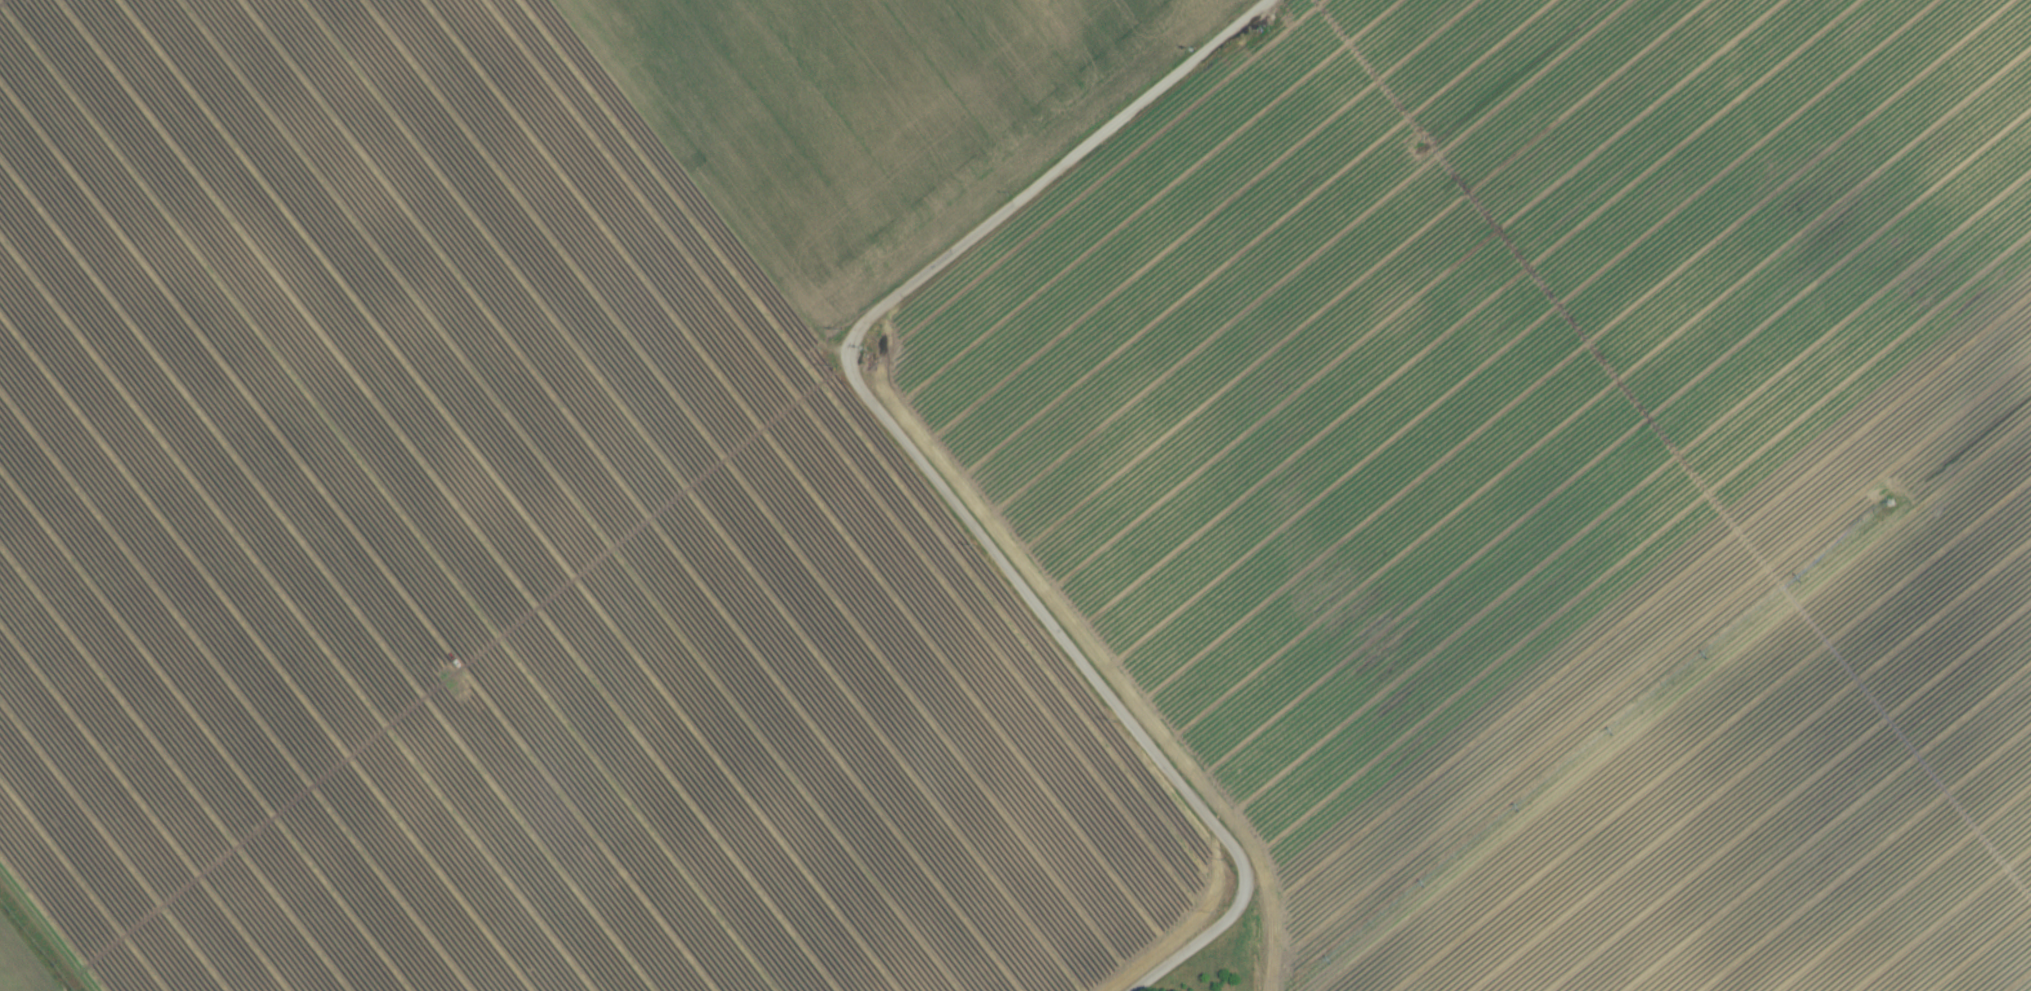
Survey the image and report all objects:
road: (931, 464)

